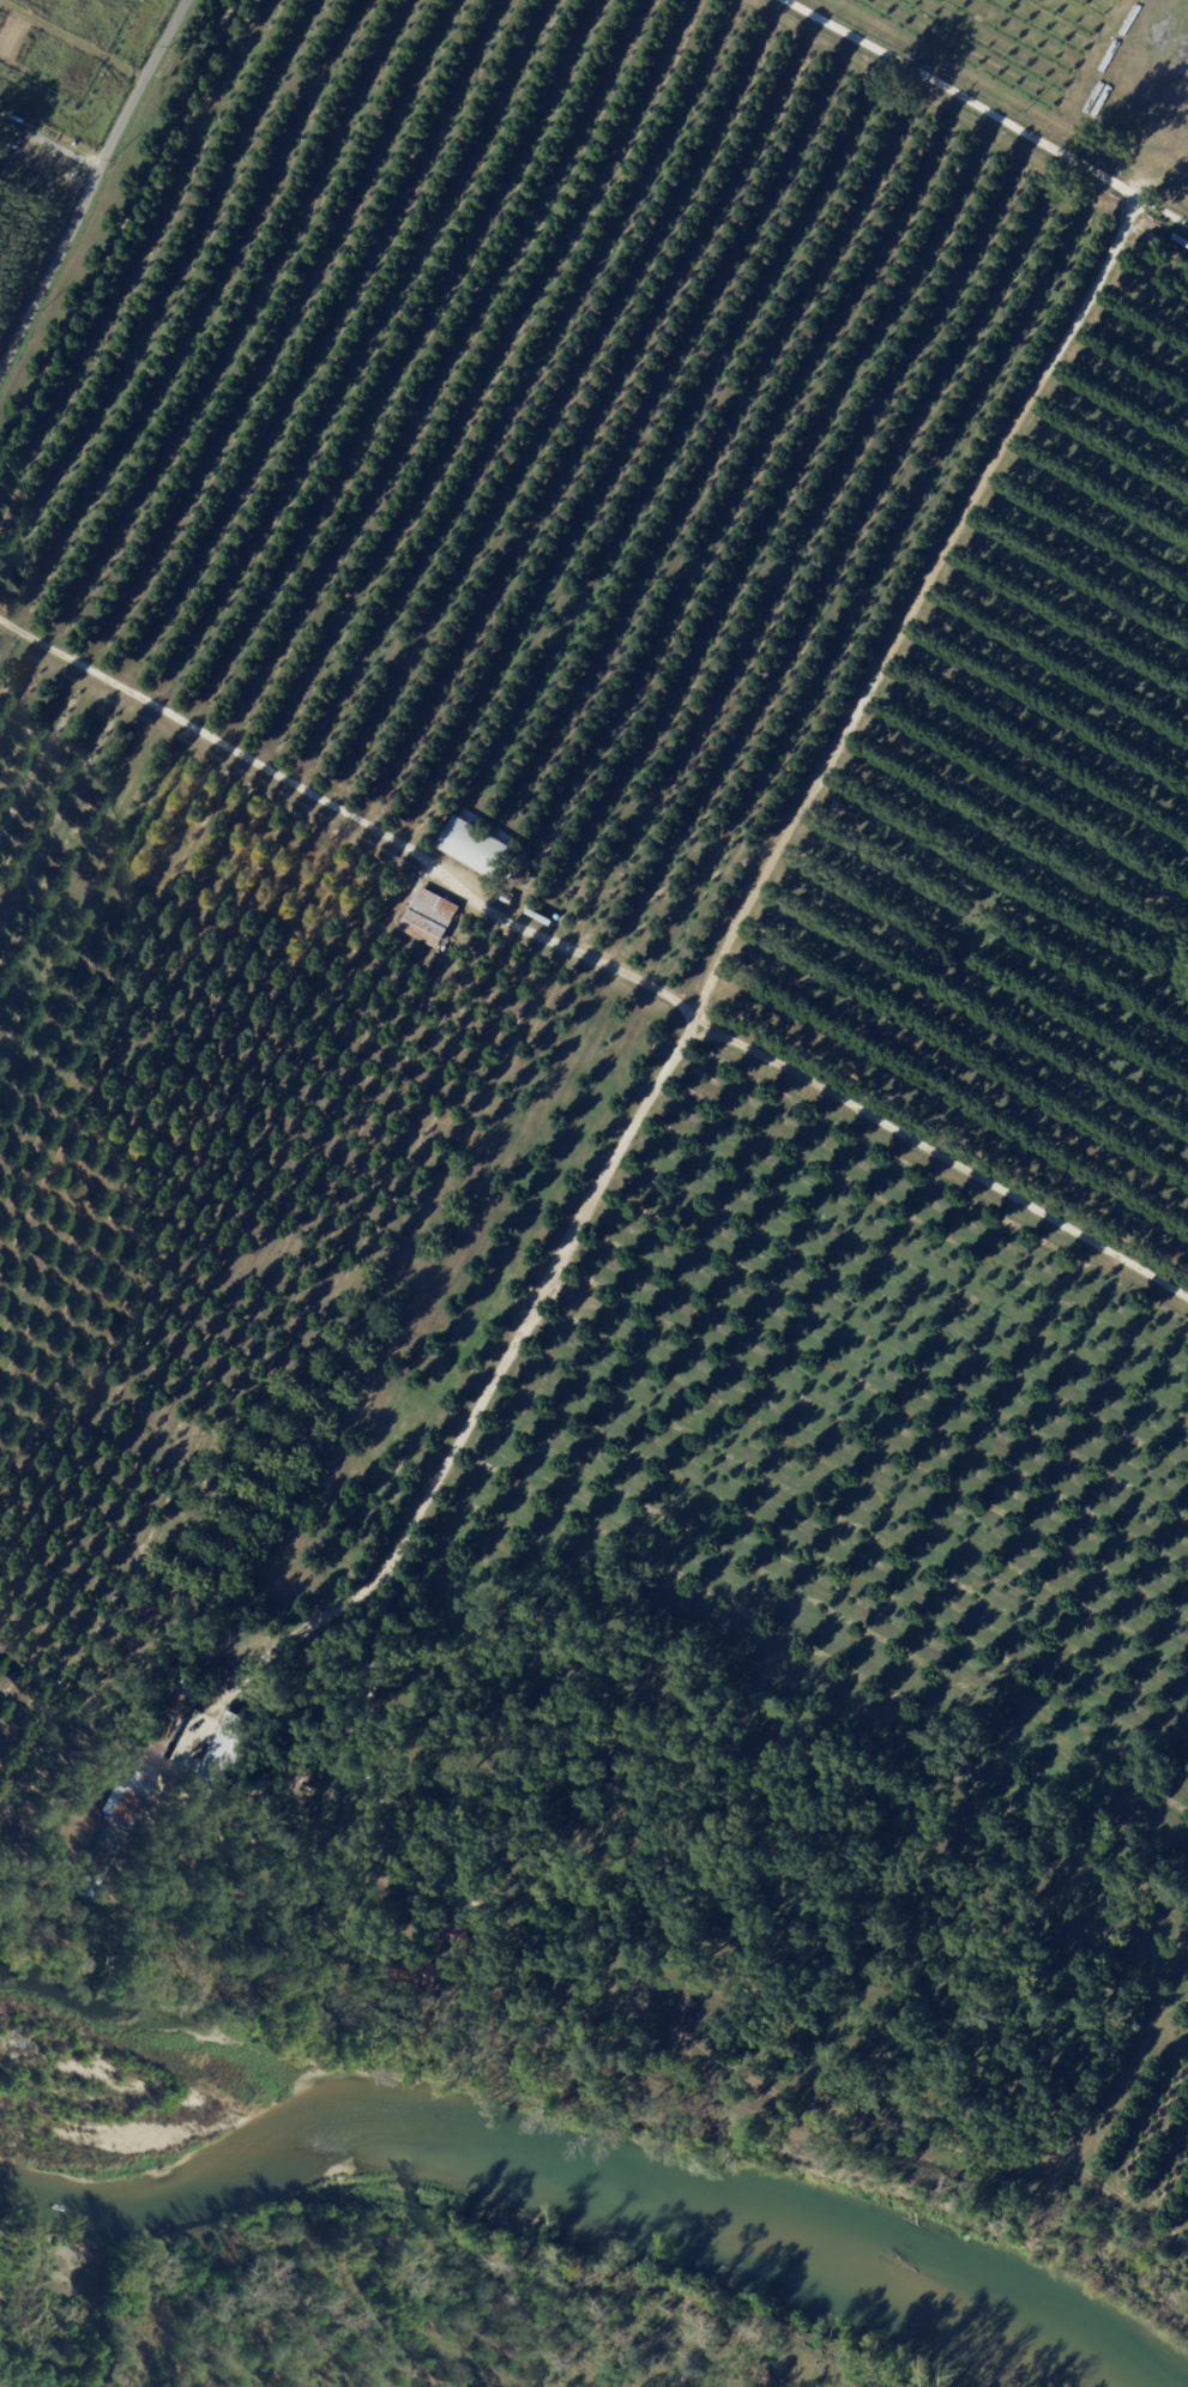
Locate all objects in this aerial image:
crop: (1060, 71)
road: (984, 113)
road: (43, 147)
road: (86, 169)
building: (1154, 237)
building: (838, 808)
road: (350, 815)
building: (477, 849)
road: (766, 886)
building: (509, 900)
building: (430, 918)
road: (942, 1156)
building: (231, 1750)
building: (151, 1762)
building: (99, 1867)
building: (460, 1935)
building: (412, 1970)
river: (598, 2159)

